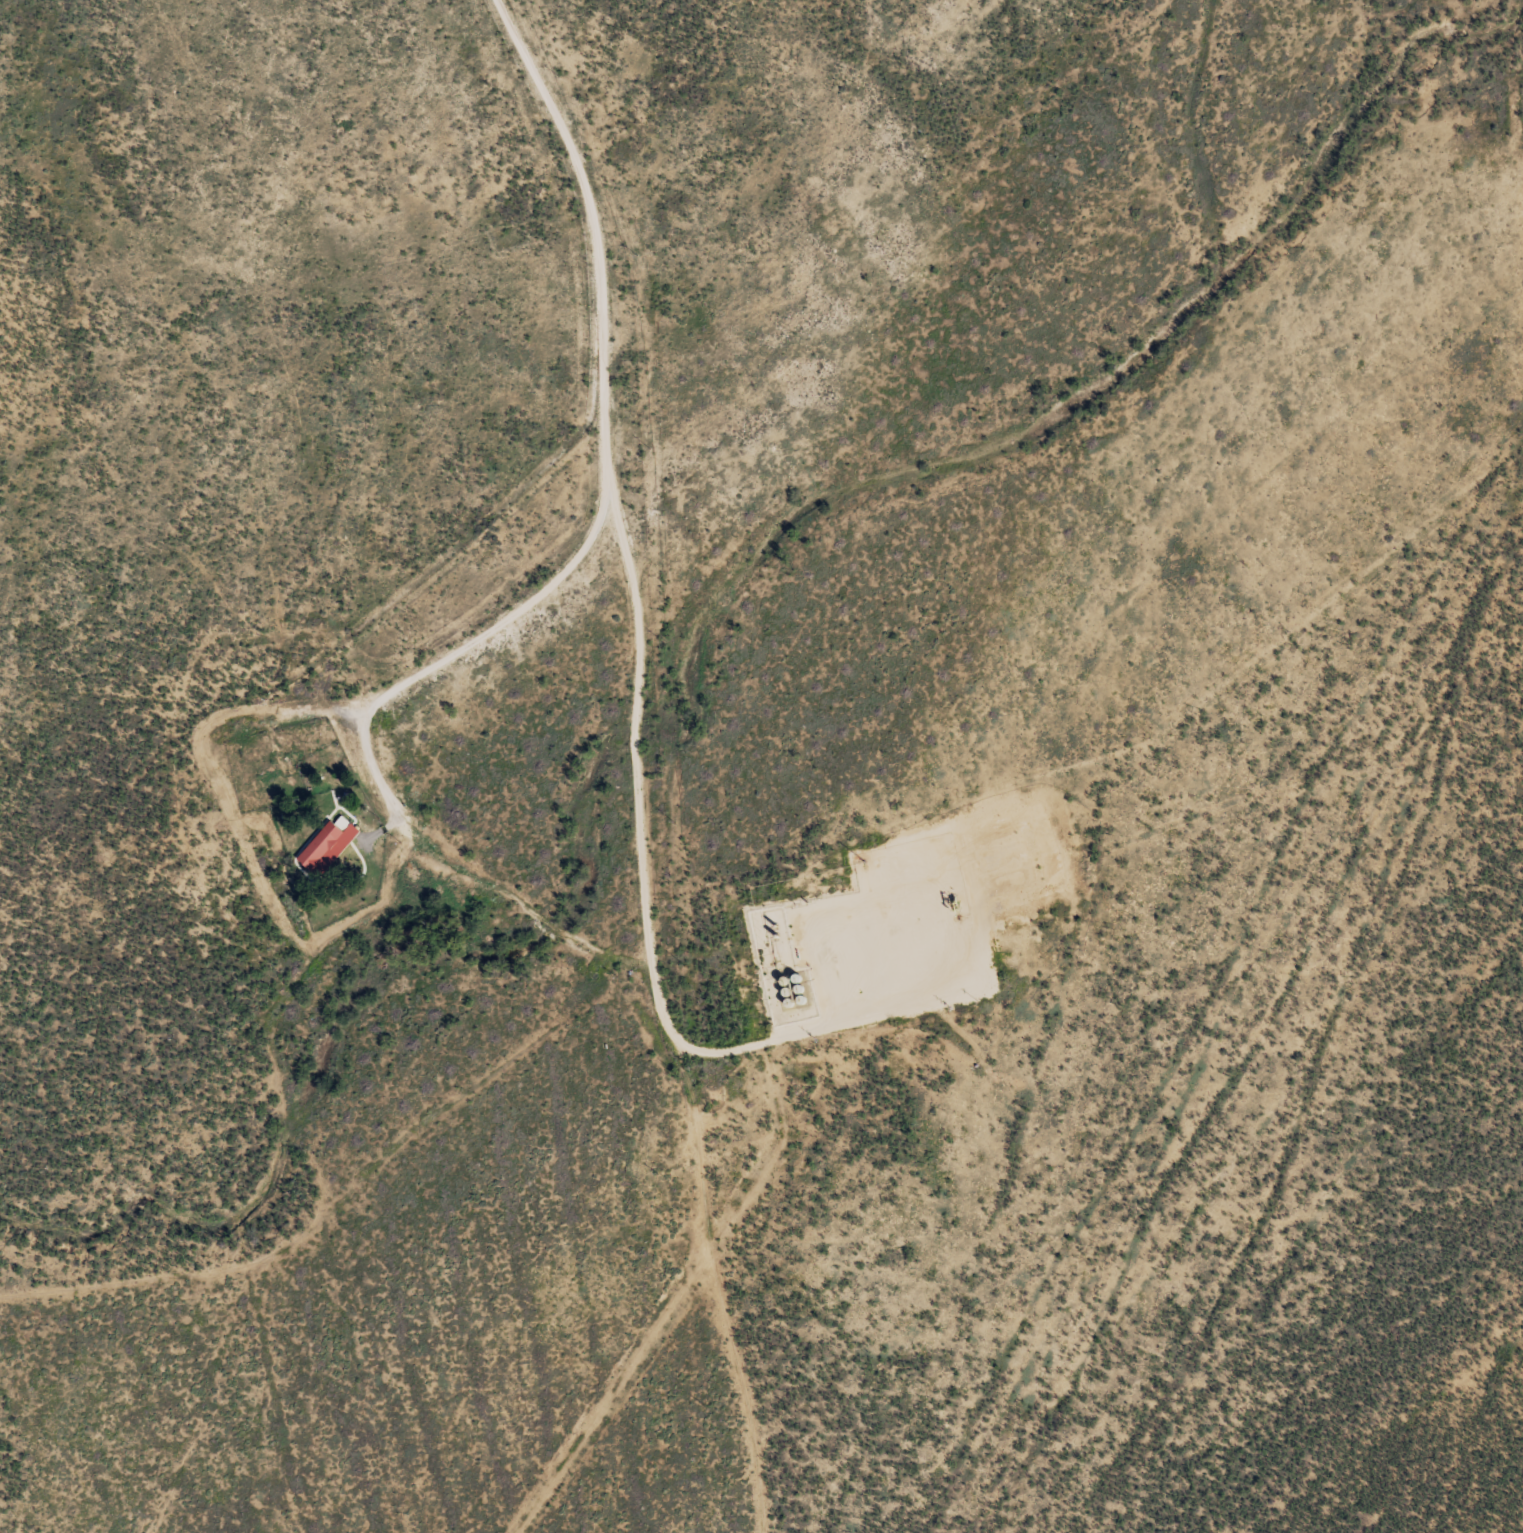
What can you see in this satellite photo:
road: (596, 243)
road: (428, 654)
road: (647, 748)

